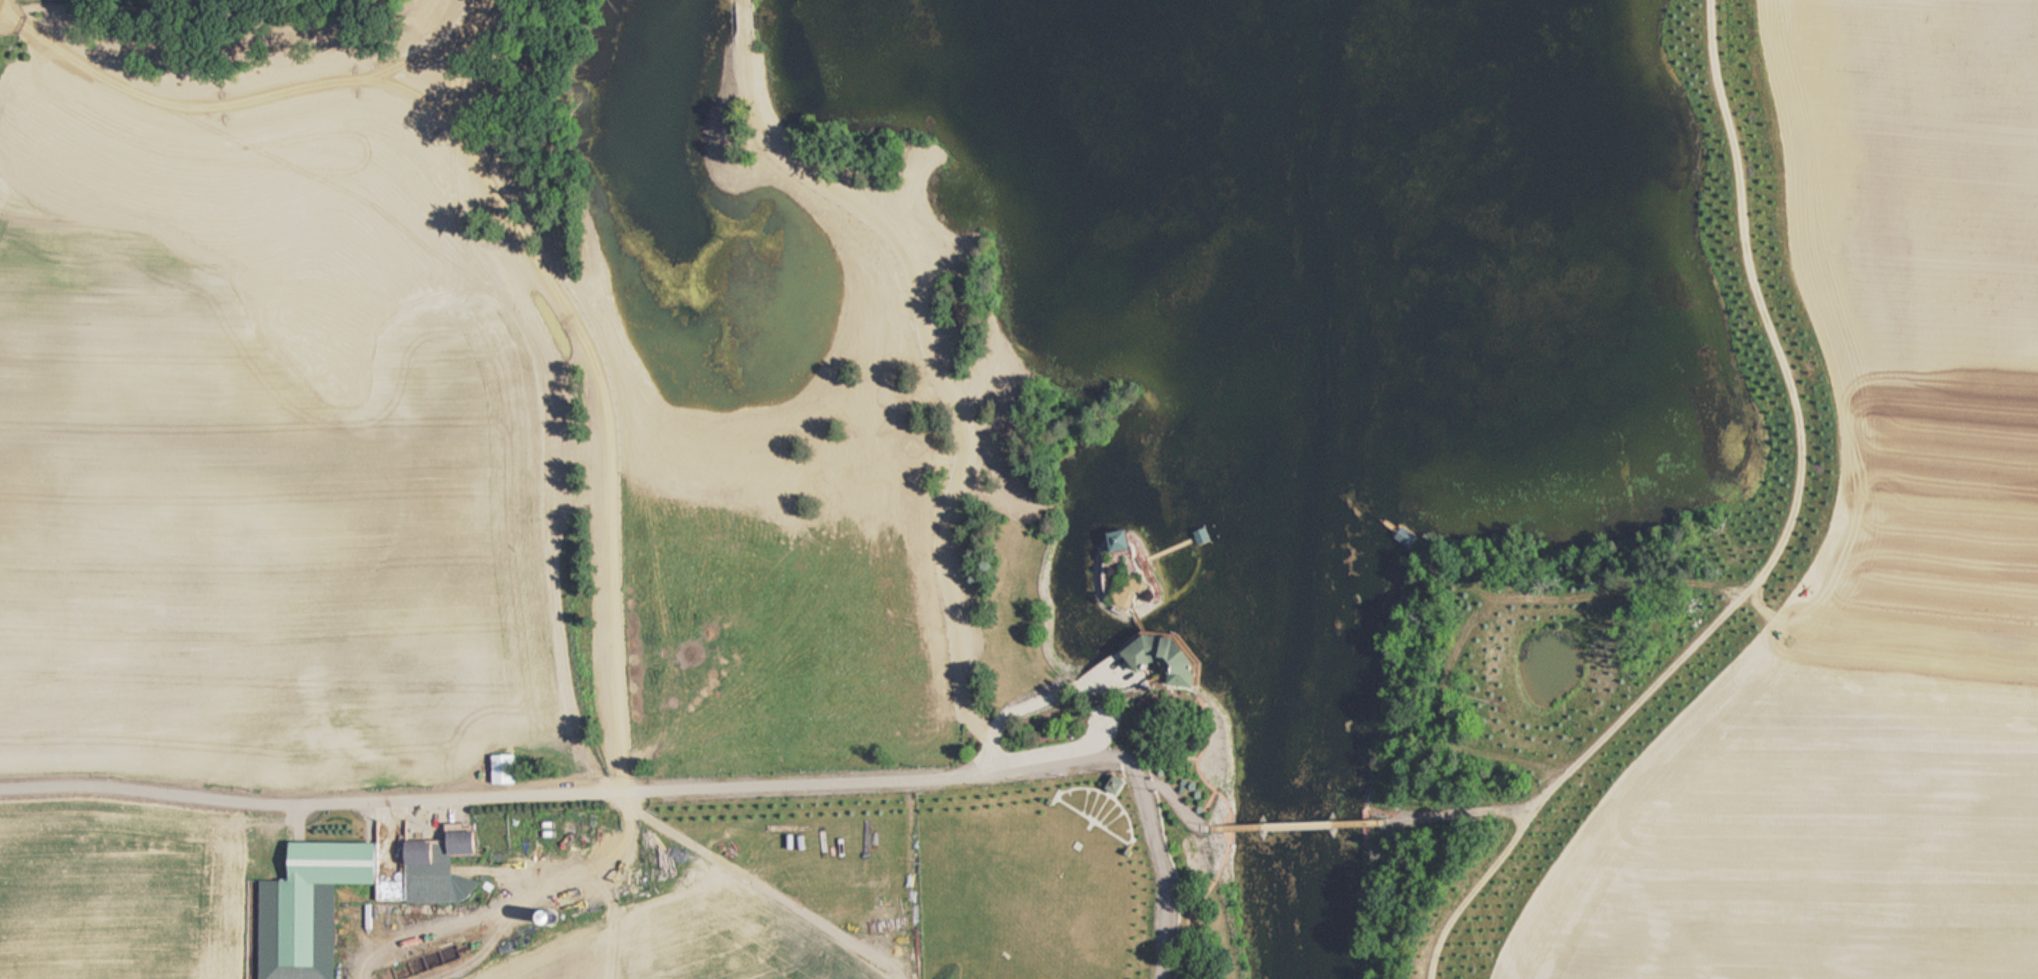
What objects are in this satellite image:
building: (141, 151)
building: (1108, 539)
building: (497, 768)
building: (410, 851)
building: (302, 907)

